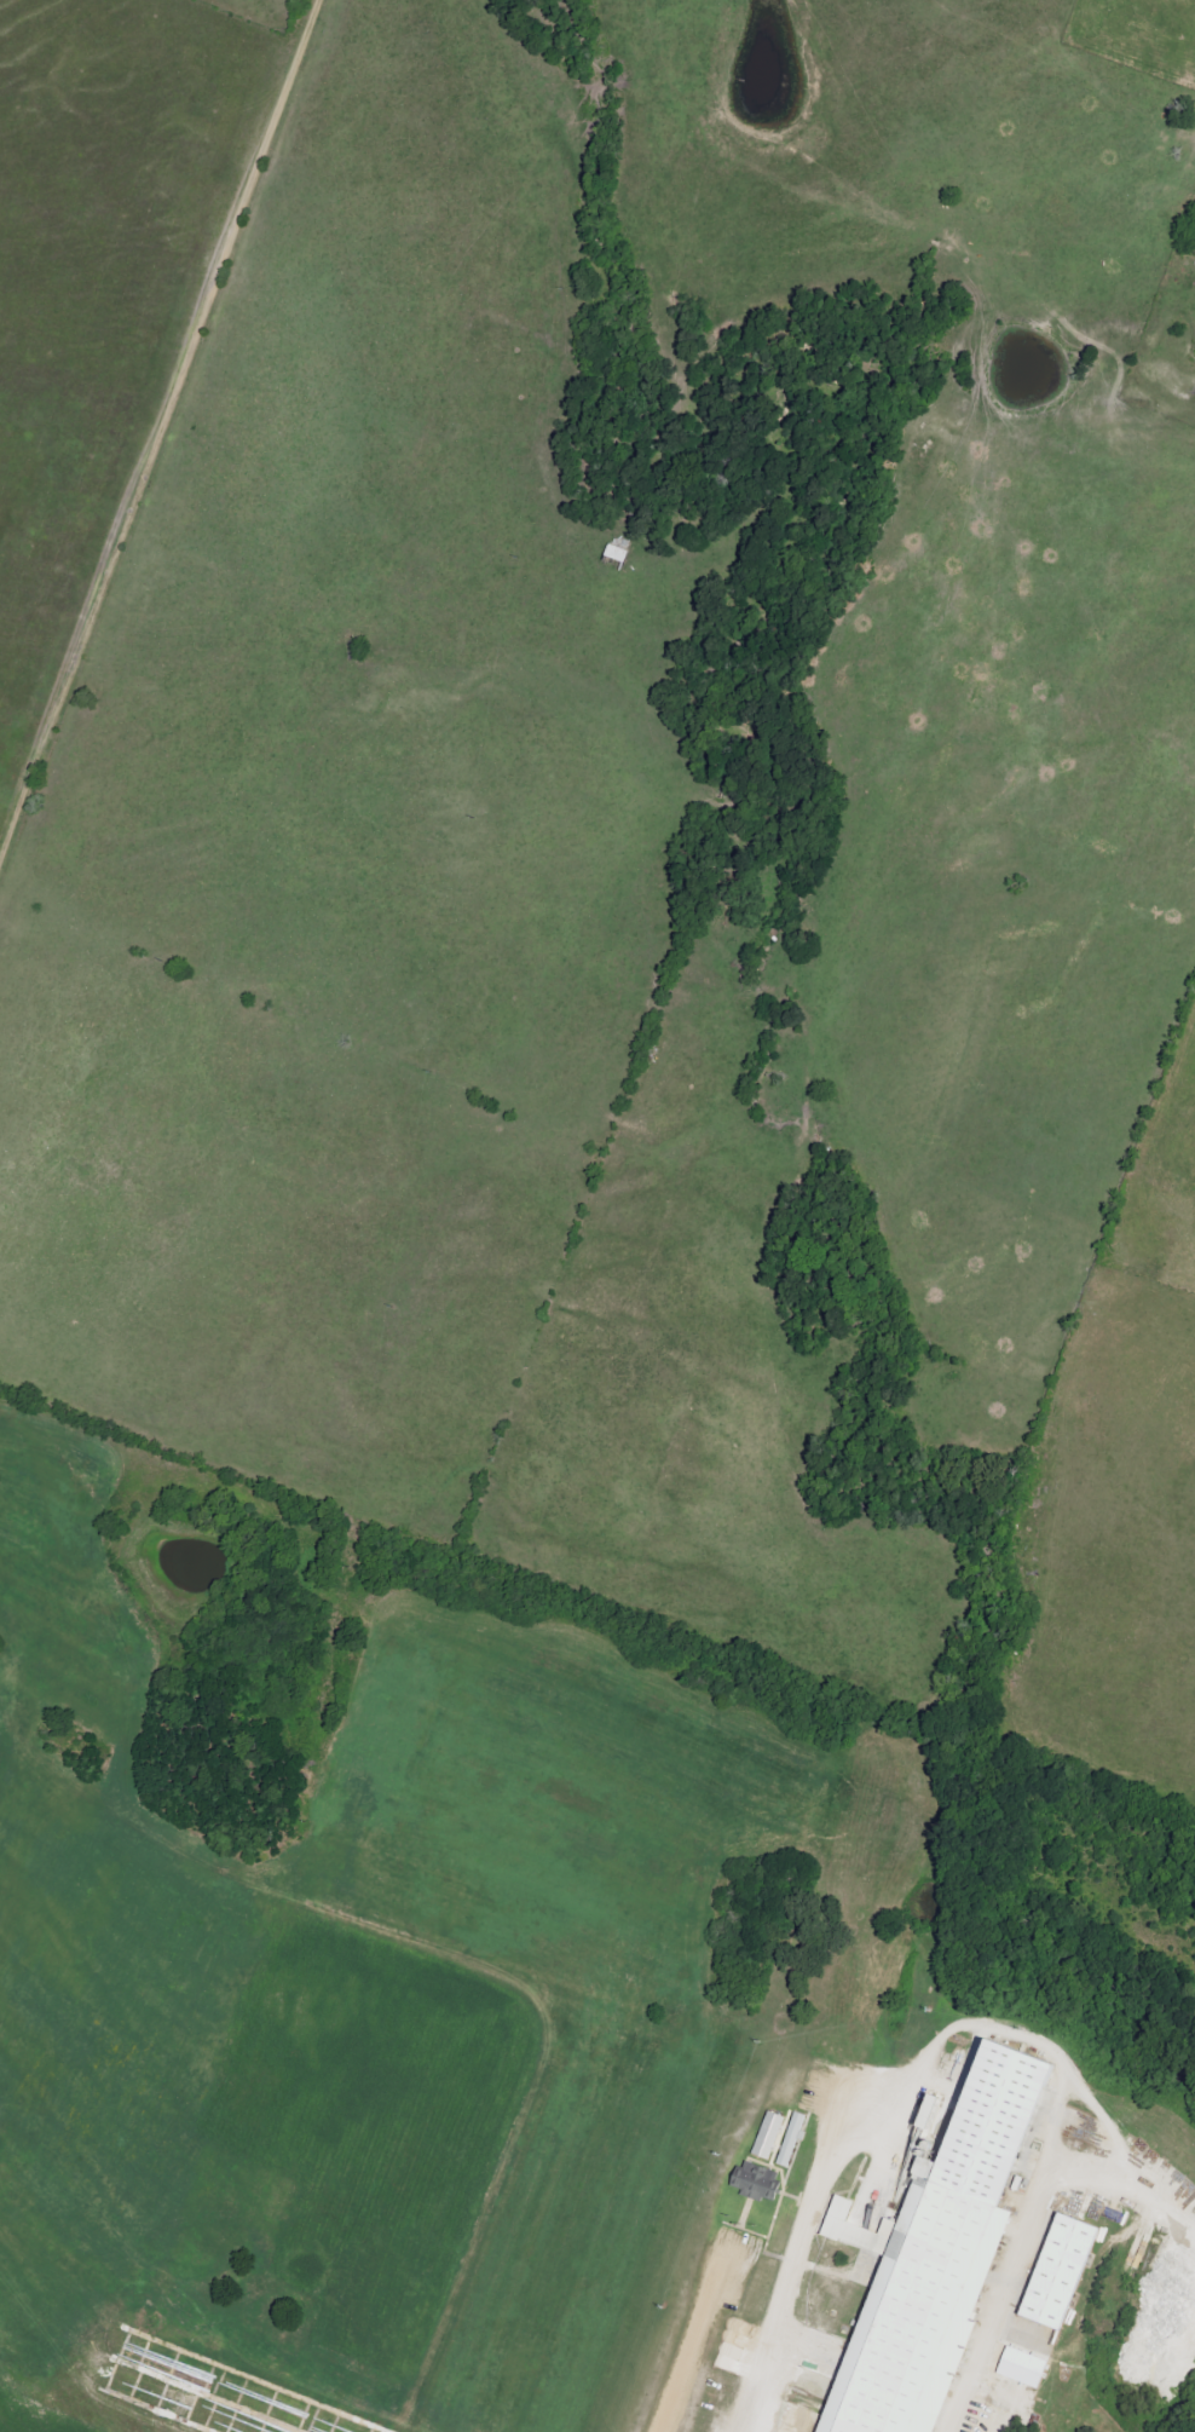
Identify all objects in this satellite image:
building: (769, 2136)
building: (792, 2140)
building: (757, 2182)
building: (859, 2228)
building: (939, 2254)
building: (1060, 2271)
road: (688, 2341)
building: (1022, 2368)

